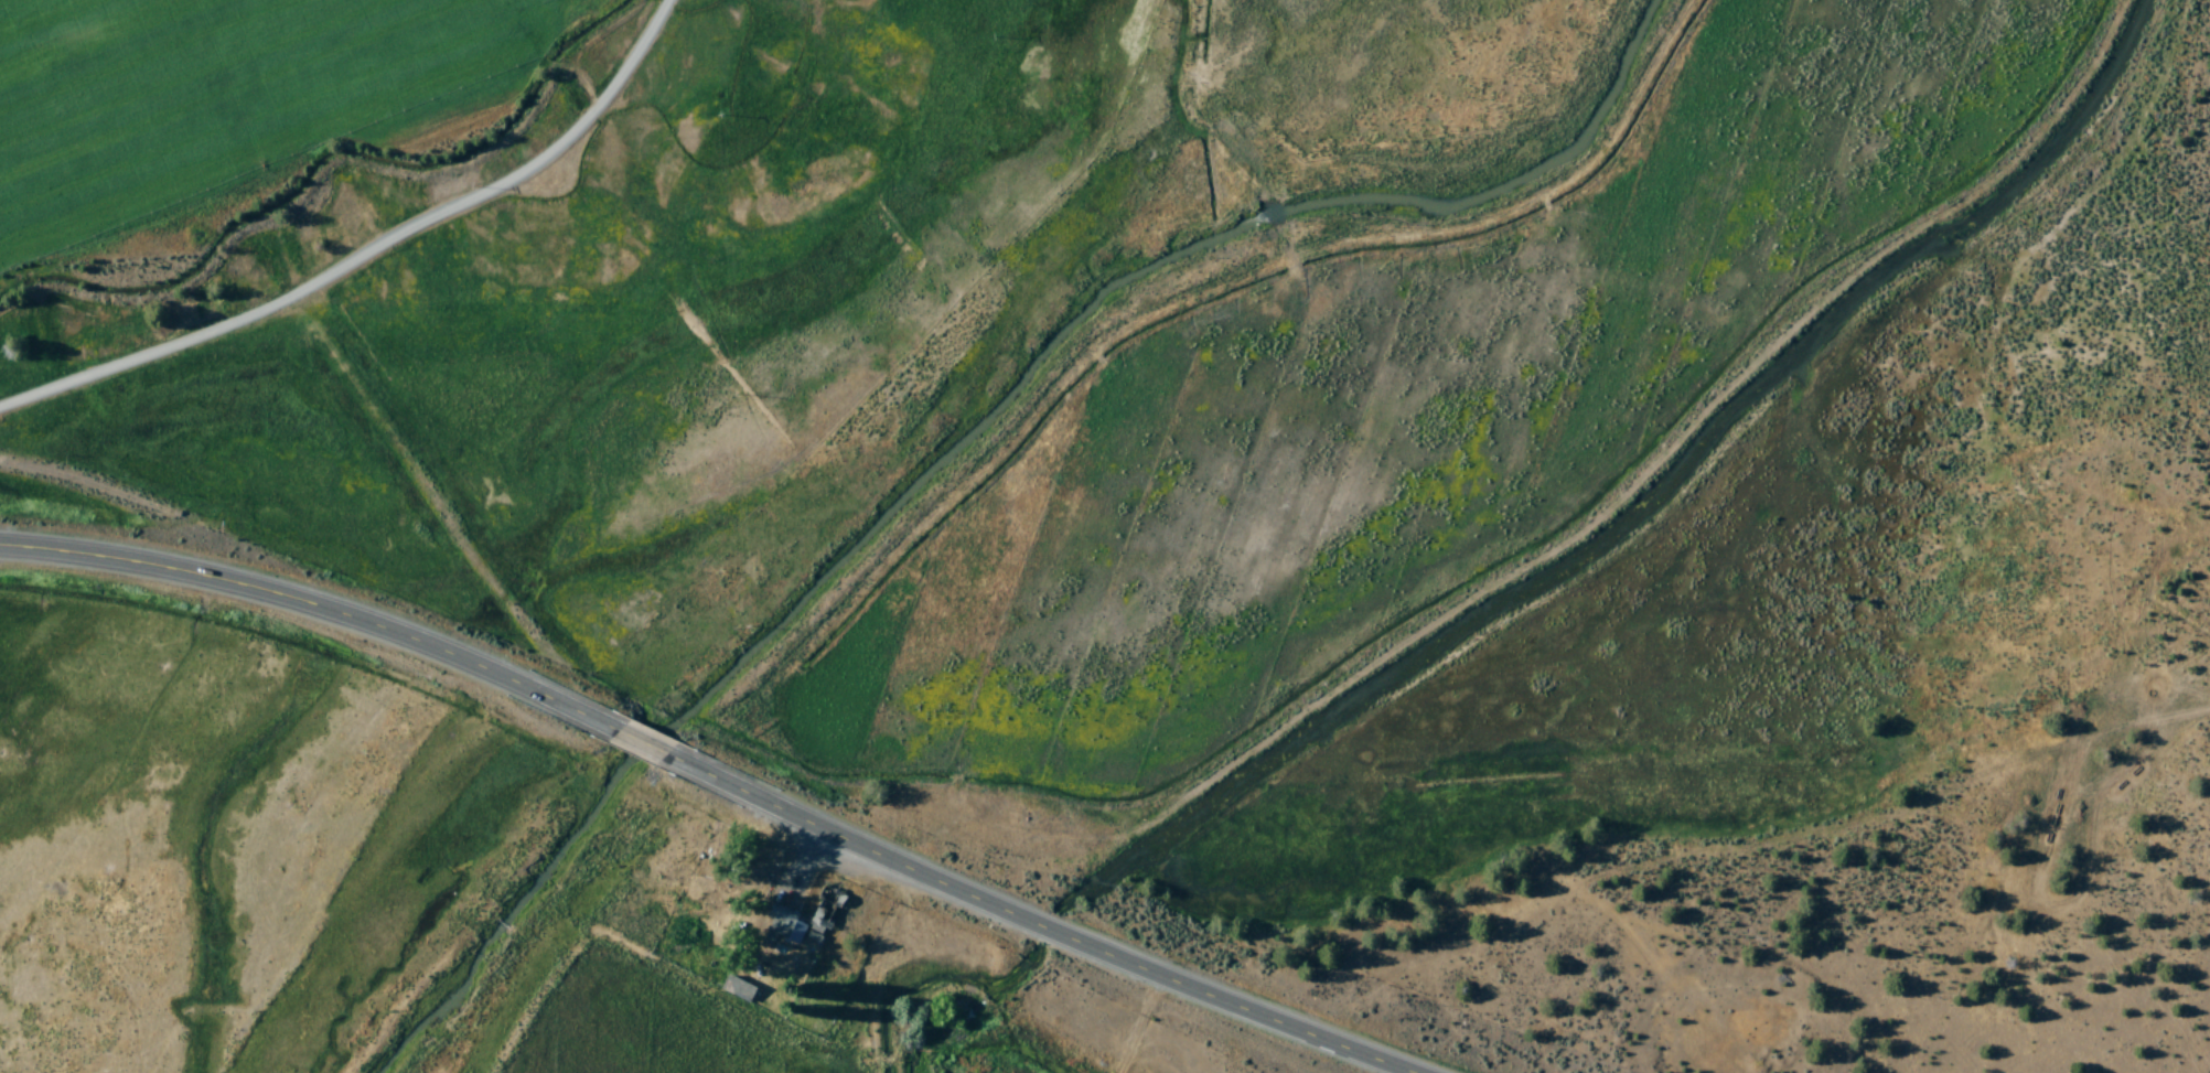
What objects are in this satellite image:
road: (374, 260)
road: (309, 607)
road: (641, 744)
building: (825, 914)
building: (780, 923)
road: (1043, 930)
building: (739, 989)

